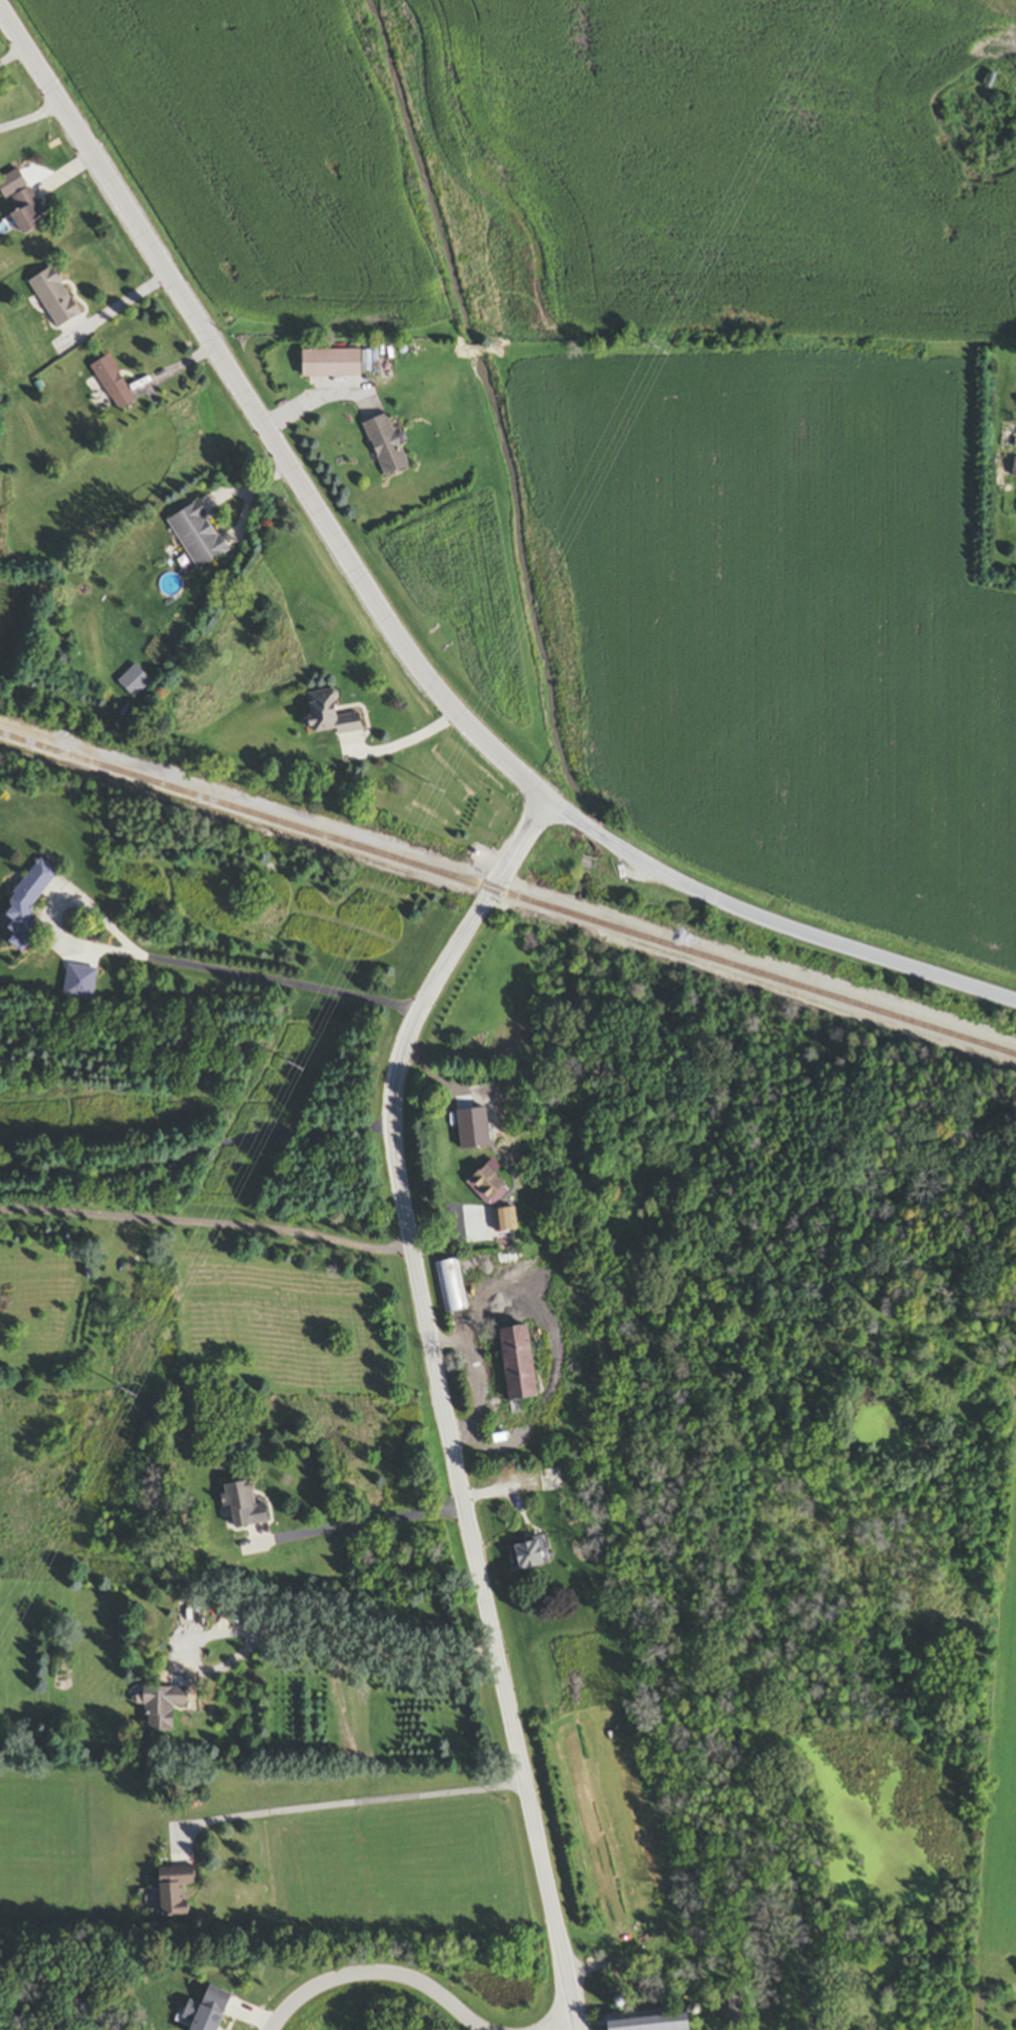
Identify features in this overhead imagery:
road: (14, 56)
road: (31, 119)
building: (25, 213)
building: (53, 299)
road: (119, 300)
power tower: (658, 347)
building: (328, 366)
building: (112, 386)
road: (312, 397)
road: (256, 414)
building: (1008, 437)
building: (383, 447)
building: (1014, 470)
building: (196, 536)
building: (327, 718)
power tower: (432, 796)
road: (567, 814)
road: (591, 832)
railway: (507, 898)
building: (25, 909)
road: (799, 935)
road: (169, 960)
power tower: (290, 1076)
road: (195, 1154)
building: (485, 1187)
building: (502, 1221)
road: (208, 1227)
building: (450, 1287)
building: (514, 1365)
power tower: (131, 1386)
road: (442, 1397)
building: (242, 1508)
road: (365, 1526)
building: (527, 1556)
road: (357, 1644)
building: (161, 1710)
road: (353, 1808)
building: (172, 1891)
road: (378, 1975)
building: (205, 2011)
building: (645, 2021)

